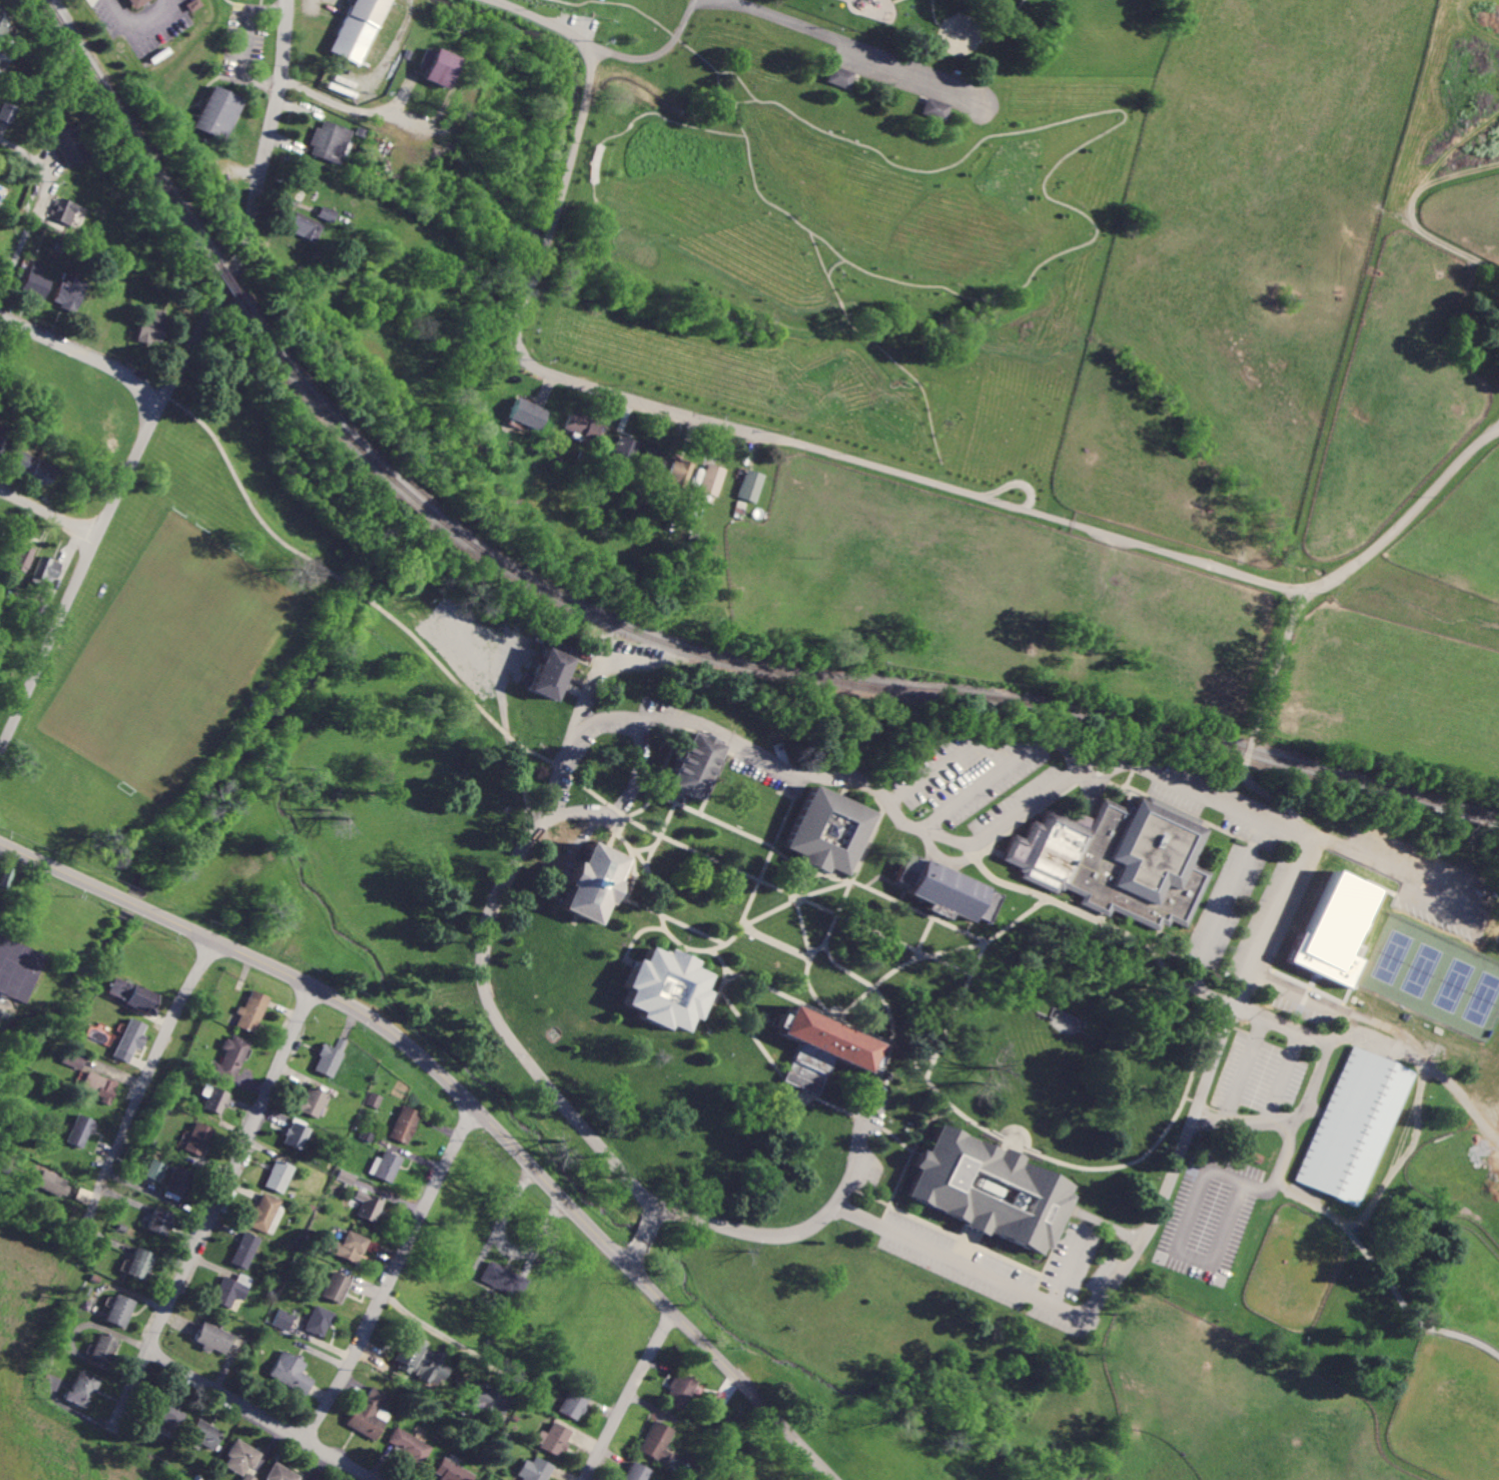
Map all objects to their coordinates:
road: (695, 1)
road: (897, 1)
building: (134, 4)
road: (647, 13)
road: (934, 13)
road: (1003, 13)
road: (546, 21)
building: (4, 26)
building: (357, 29)
road: (146, 32)
road: (850, 44)
road: (658, 55)
building: (439, 66)
building: (842, 77)
road: (344, 107)
building: (938, 109)
building: (7, 112)
building: (218, 112)
road: (275, 127)
railway: (134, 134)
building: (331, 142)
building: (69, 144)
road: (1054, 199)
building: (67, 207)
road: (37, 211)
building: (328, 214)
building: (306, 226)
building: (37, 281)
railway: (230, 282)
building: (70, 292)
building: (153, 329)
building: (1497, 333)
road: (85, 356)
road: (1017, 376)
road: (702, 384)
road: (692, 391)
building: (528, 414)
building: (584, 428)
building: (2, 440)
building: (627, 449)
building: (656, 459)
road: (882, 468)
building: (34, 469)
building: (682, 470)
building: (713, 480)
road: (1019, 483)
building: (751, 486)
road: (117, 501)
road: (49, 514)
building: (22, 557)
building: (46, 570)
road: (369, 597)
building: (552, 668)
railway: (809, 672)
road: (607, 717)
railway: (1142, 723)
road: (1255, 724)
road: (700, 729)
road: (986, 751)
building: (693, 763)
road: (655, 794)
road: (961, 797)
building: (830, 829)
road: (660, 835)
road: (702, 853)
road: (771, 854)
building: (1118, 857)
road: (1380, 863)
building: (7, 877)
building: (593, 879)
building: (943, 885)
road: (825, 888)
road: (844, 900)
road: (802, 915)
road: (676, 921)
road: (1216, 922)
road: (952, 924)
road: (752, 929)
road: (668, 932)
road: (927, 933)
road: (906, 943)
park: (1393, 957)
road: (1251, 962)
road: (904, 965)
building: (18, 967)
park: (1422, 970)
park: (1455, 984)
building: (669, 987)
road: (813, 990)
building: (131, 993)
park: (1483, 999)
road: (805, 1003)
building: (251, 1010)
road: (1385, 1024)
road: (753, 1032)
road: (1372, 1036)
building: (130, 1039)
building: (824, 1047)
building: (230, 1056)
building: (74, 1057)
building: (329, 1057)
road: (913, 1058)
road: (1244, 1067)
road: (1281, 1076)
road: (146, 1079)
road: (1311, 1083)
building: (100, 1086)
road: (464, 1097)
building: (212, 1098)
building: (374, 1100)
road: (561, 1101)
building: (311, 1102)
building: (405, 1124)
building: (1356, 1126)
building: (80, 1130)
building: (294, 1135)
building: (196, 1138)
road: (1035, 1152)
building: (385, 1166)
road: (907, 1166)
building: (154, 1169)
building: (277, 1176)
building: (53, 1183)
building: (175, 1183)
building: (991, 1189)
road: (215, 1205)
building: (368, 1205)
building: (262, 1212)
building: (159, 1221)
road: (874, 1221)
road: (1110, 1224)
road: (645, 1235)
building: (347, 1246)
road: (504, 1246)
building: (243, 1250)
building: (140, 1263)
road: (1071, 1266)
road: (392, 1274)
building: (503, 1279)
building: (335, 1286)
building: (230, 1290)
building: (120, 1310)
building: (282, 1319)
building: (318, 1320)
road: (442, 1336)
building: (214, 1338)
building: (103, 1350)
building: (422, 1361)
building: (290, 1372)
building: (84, 1388)
building: (680, 1391)
road: (627, 1392)
building: (573, 1402)
building: (487, 1403)
building: (168, 1413)
building: (369, 1413)
road: (261, 1414)
building: (206, 1433)
building: (552, 1438)
building: (656, 1442)
building: (409, 1444)
building: (241, 1457)
building: (533, 1470)
building: (451, 1471)
building: (636, 1472)
building: (281, 1473)
building: (249, 1477)

